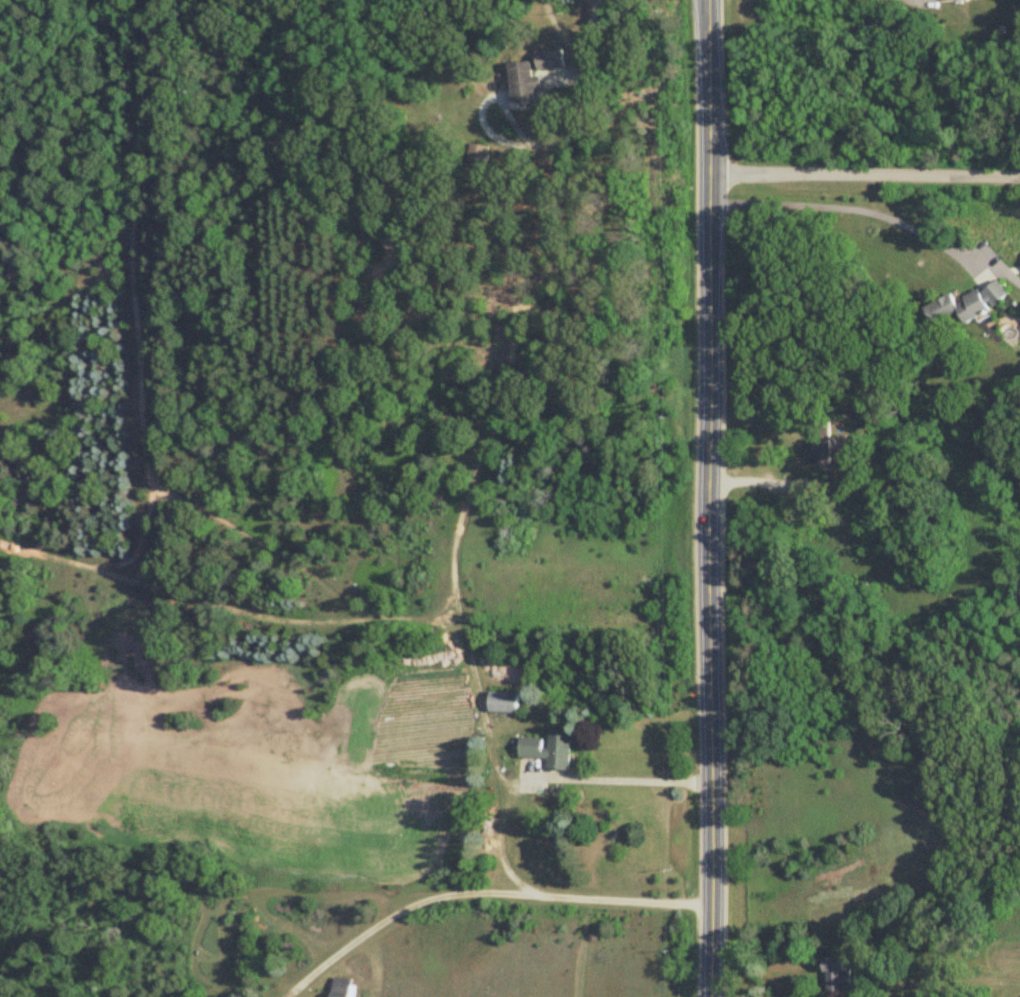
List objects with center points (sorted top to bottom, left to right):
building: (958, 0)
road: (577, 44)
building: (551, 61)
building: (524, 85)
building: (477, 155)
road: (864, 175)
road: (872, 213)
building: (968, 305)
building: (822, 445)
road: (763, 481)
building: (847, 486)
road: (709, 498)
building: (501, 703)
building: (546, 750)
road: (625, 767)
road: (482, 891)
building: (838, 976)
building: (342, 987)

